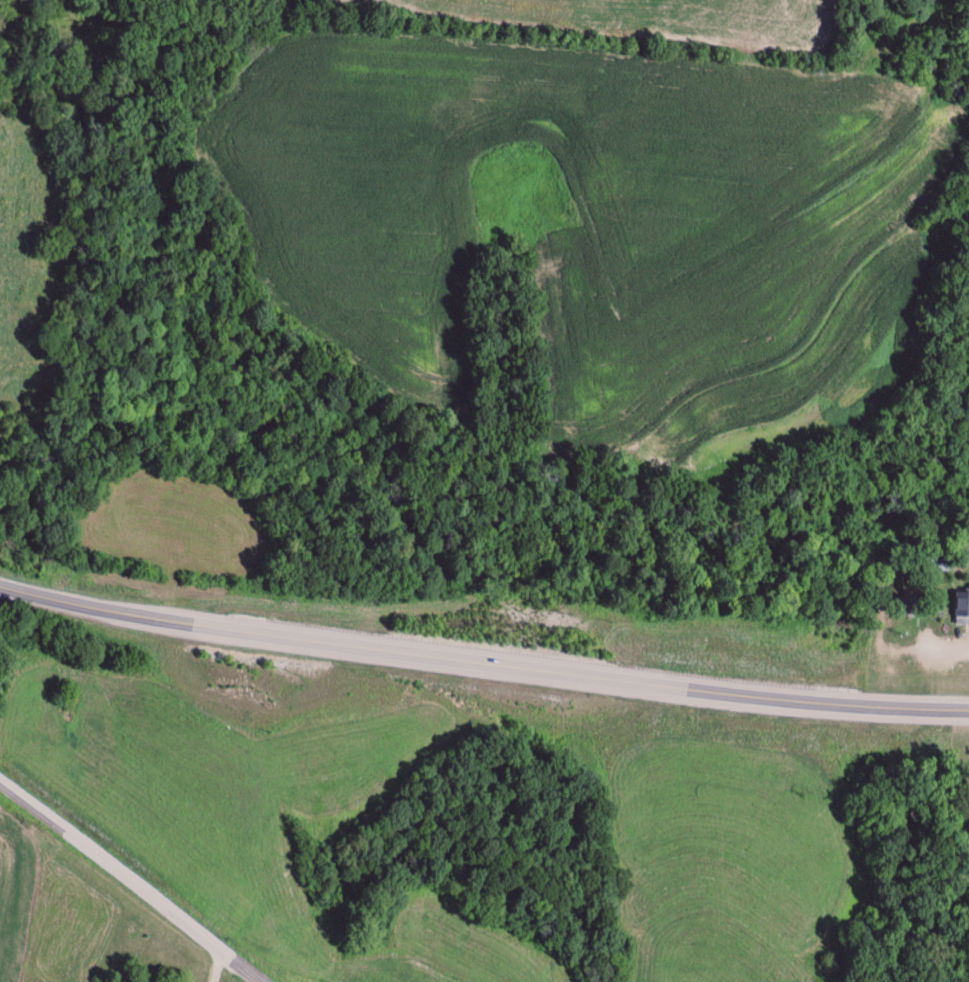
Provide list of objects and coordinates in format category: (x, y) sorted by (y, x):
building: (940, 565)
building: (899, 603)
building: (961, 608)
road: (482, 651)
road: (129, 882)

